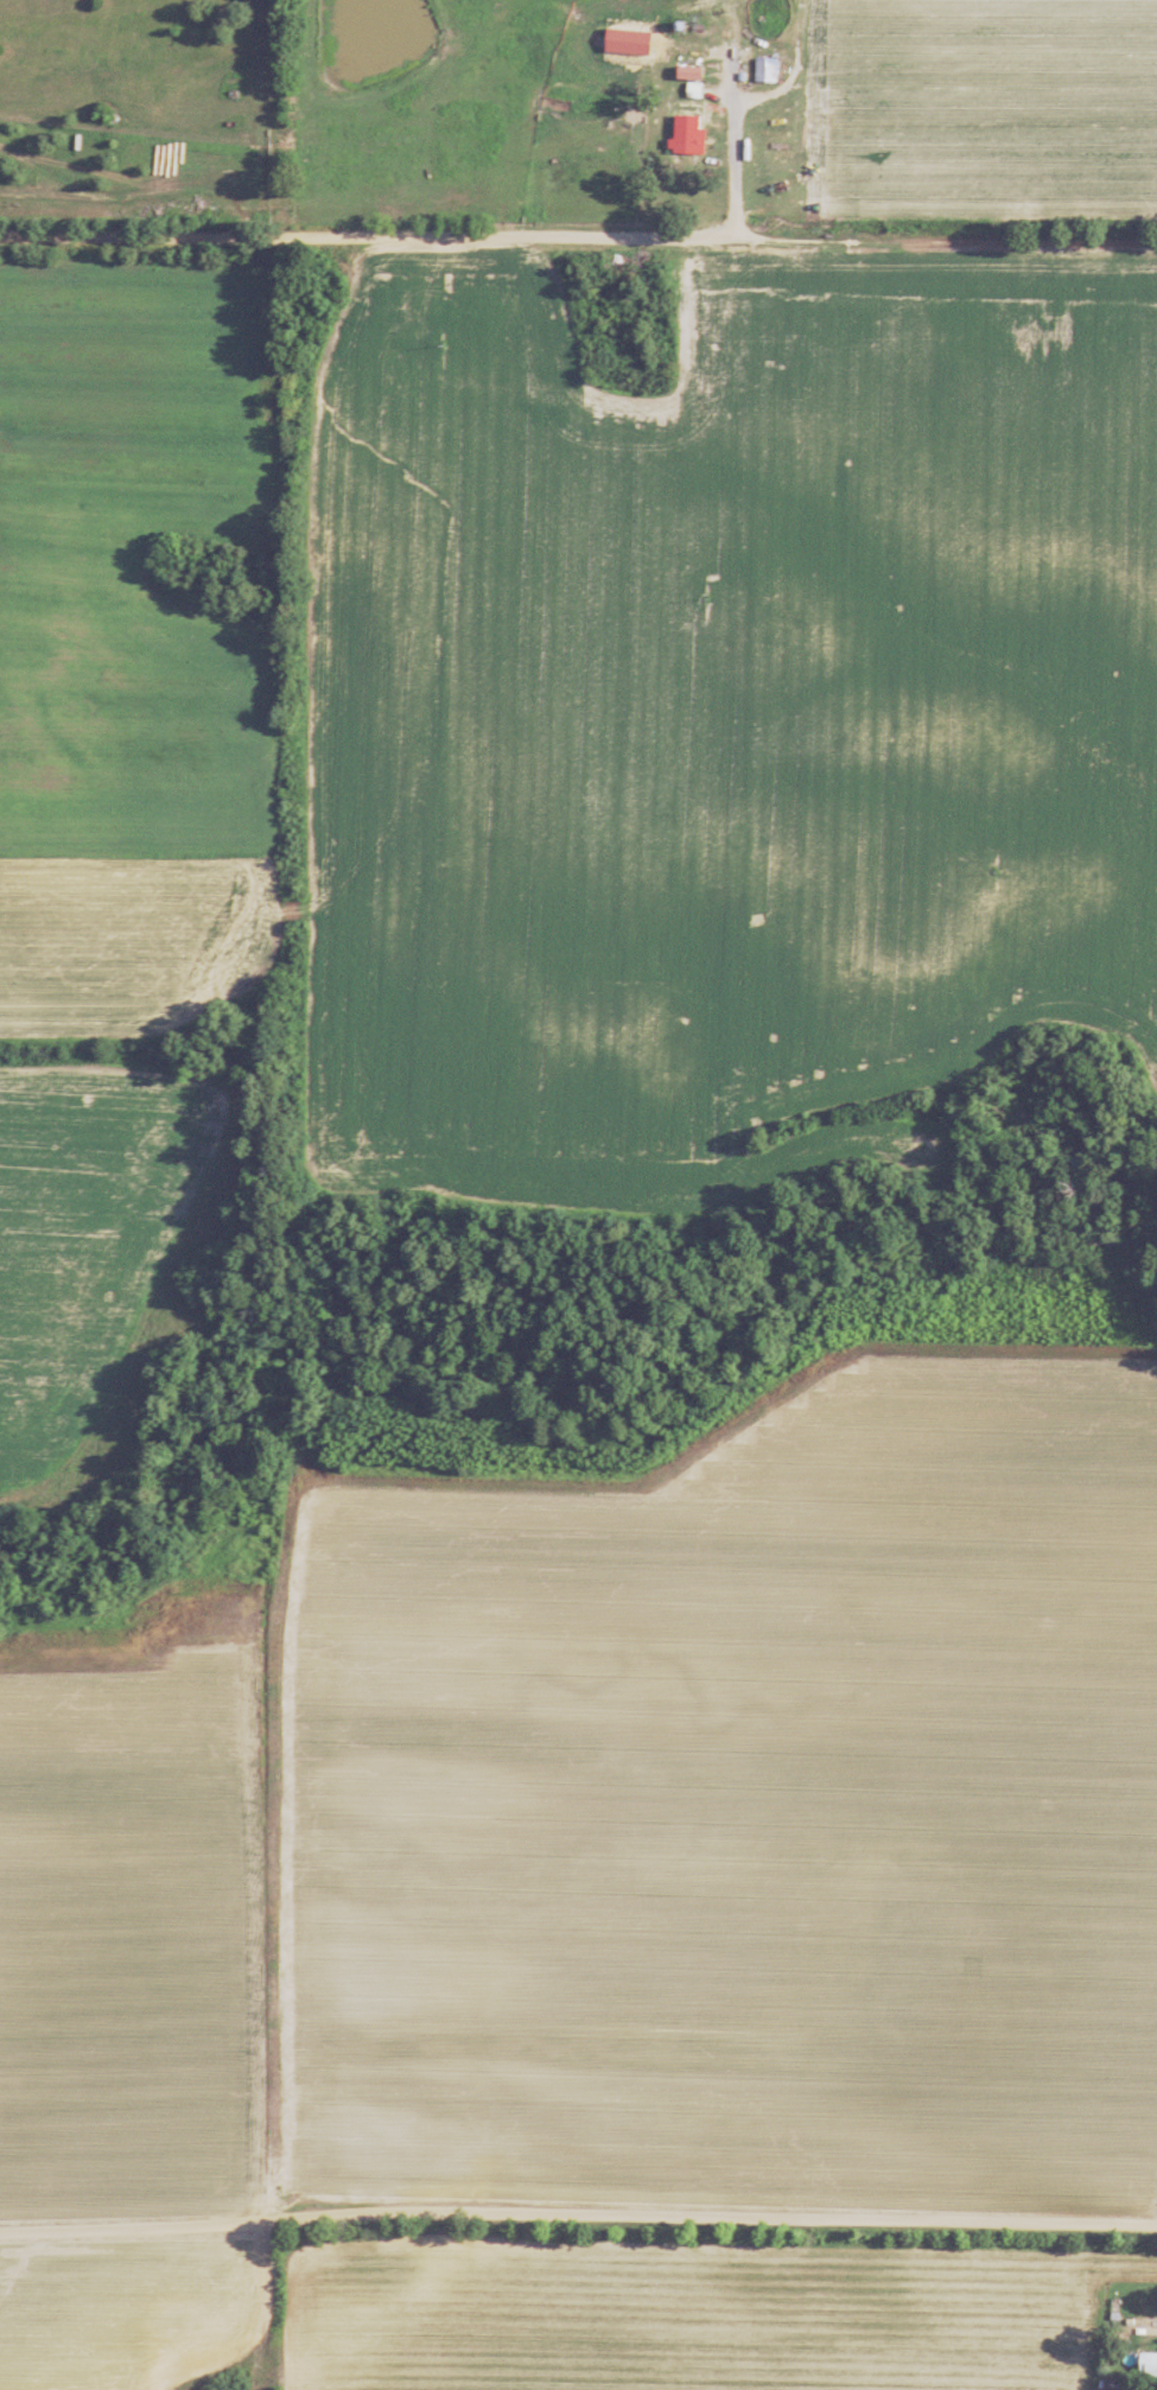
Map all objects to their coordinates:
road: (427, 235)
road: (578, 2212)

